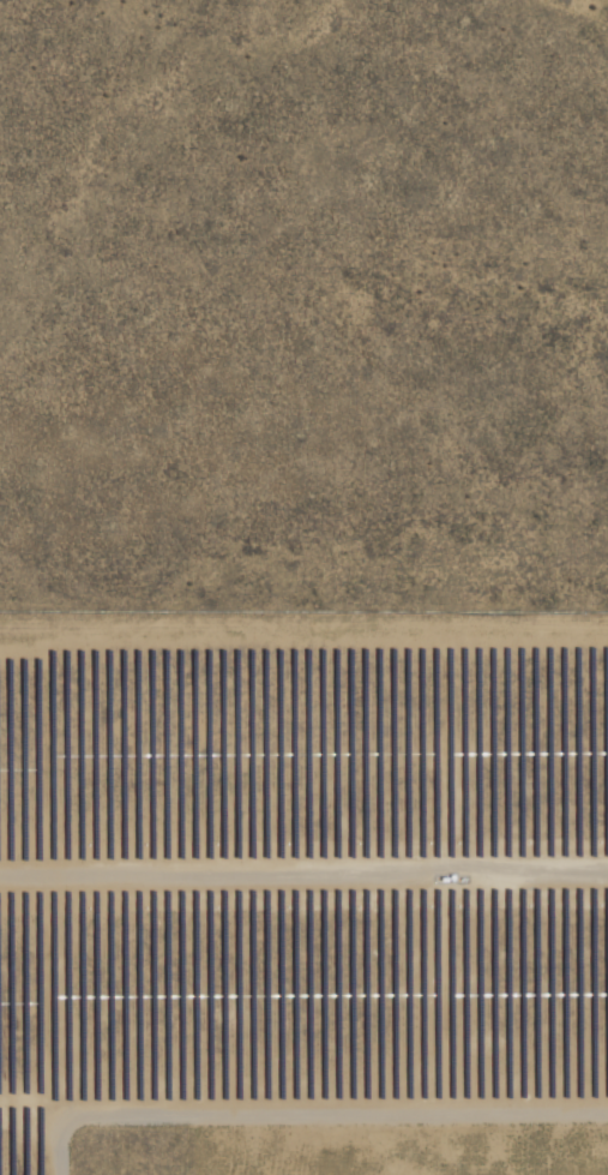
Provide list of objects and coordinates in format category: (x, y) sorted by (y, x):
solar farm: (301, 877)

